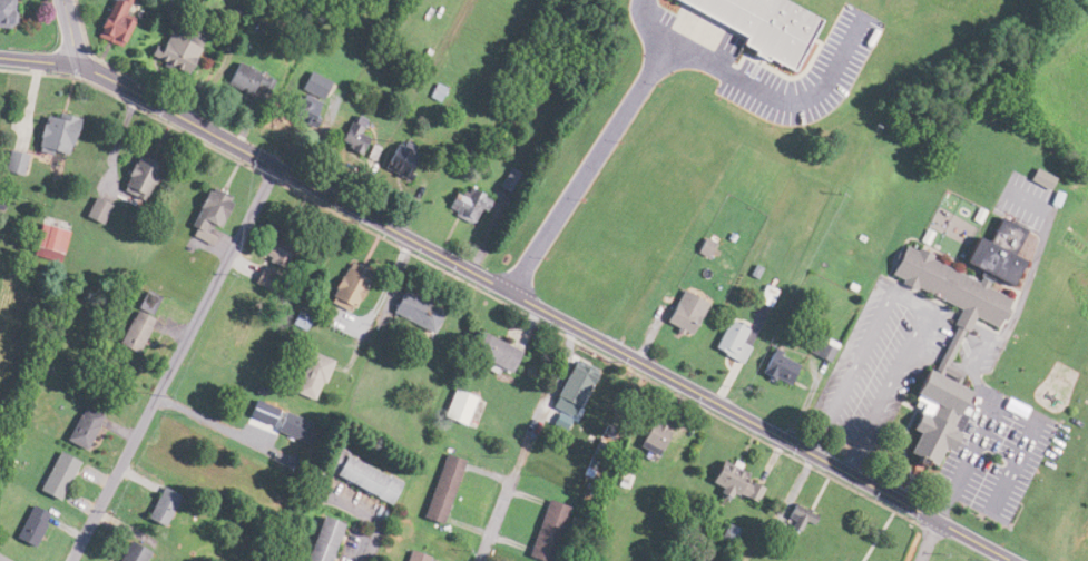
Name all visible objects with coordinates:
building: (4, 12)
building: (111, 21)
building: (759, 27)
road: (69, 31)
building: (178, 43)
building: (247, 81)
building: (306, 97)
building: (52, 132)
building: (353, 135)
building: (12, 161)
building: (399, 161)
road: (585, 170)
building: (137, 174)
building: (1039, 178)
building: (510, 179)
building: (465, 205)
building: (96, 209)
building: (206, 215)
building: (47, 242)
building: (272, 248)
building: (992, 250)
building: (262, 277)
road: (388, 284)
building: (345, 286)
road: (509, 294)
road: (912, 298)
building: (413, 311)
building: (683, 312)
building: (297, 319)
building: (134, 331)
building: (729, 341)
building: (939, 347)
building: (491, 351)
road: (174, 363)
building: (776, 366)
building: (310, 375)
building: (578, 375)
road: (1000, 404)
building: (457, 406)
road: (213, 422)
building: (82, 427)
building: (292, 427)
building: (650, 437)
building: (357, 475)
building: (57, 476)
building: (986, 480)
building: (731, 481)
building: (440, 489)
building: (159, 505)
road: (365, 512)
road: (498, 515)
building: (795, 520)
building: (30, 525)
building: (545, 530)
building: (320, 540)
road: (929, 541)
building: (130, 552)
building: (413, 555)
road: (2, 559)

